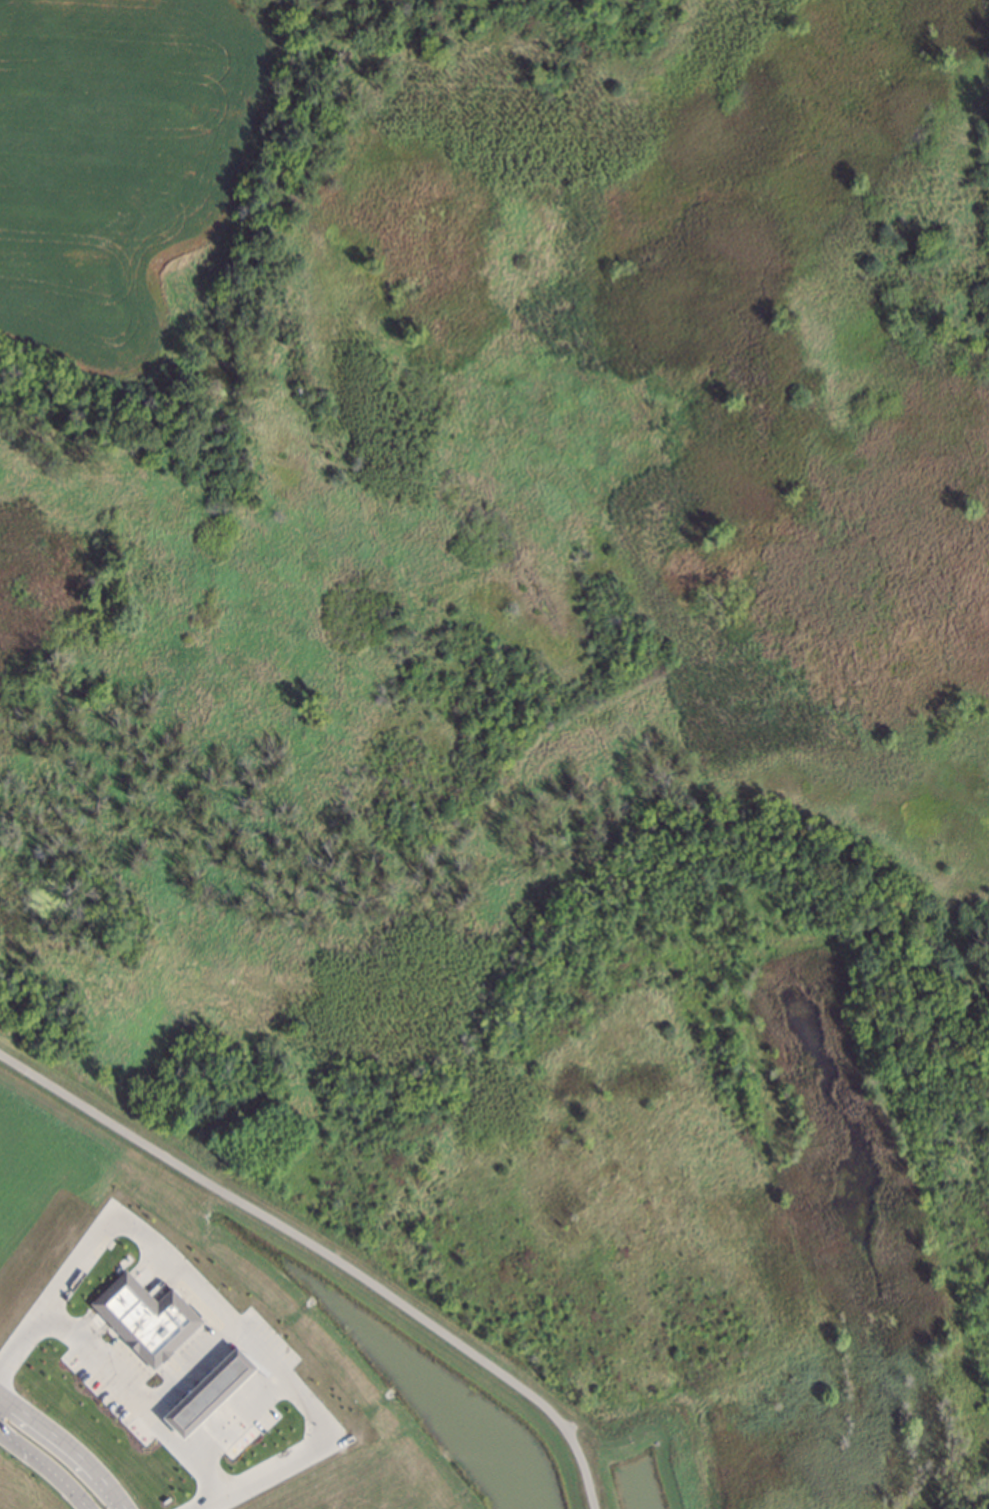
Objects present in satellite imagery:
crop: (124, 184)
road: (218, 1303)
building: (148, 1322)
road: (192, 1364)
road: (136, 1394)
building: (209, 1395)
gas station: (209, 1395)
road: (66, 1446)
road: (44, 1469)

